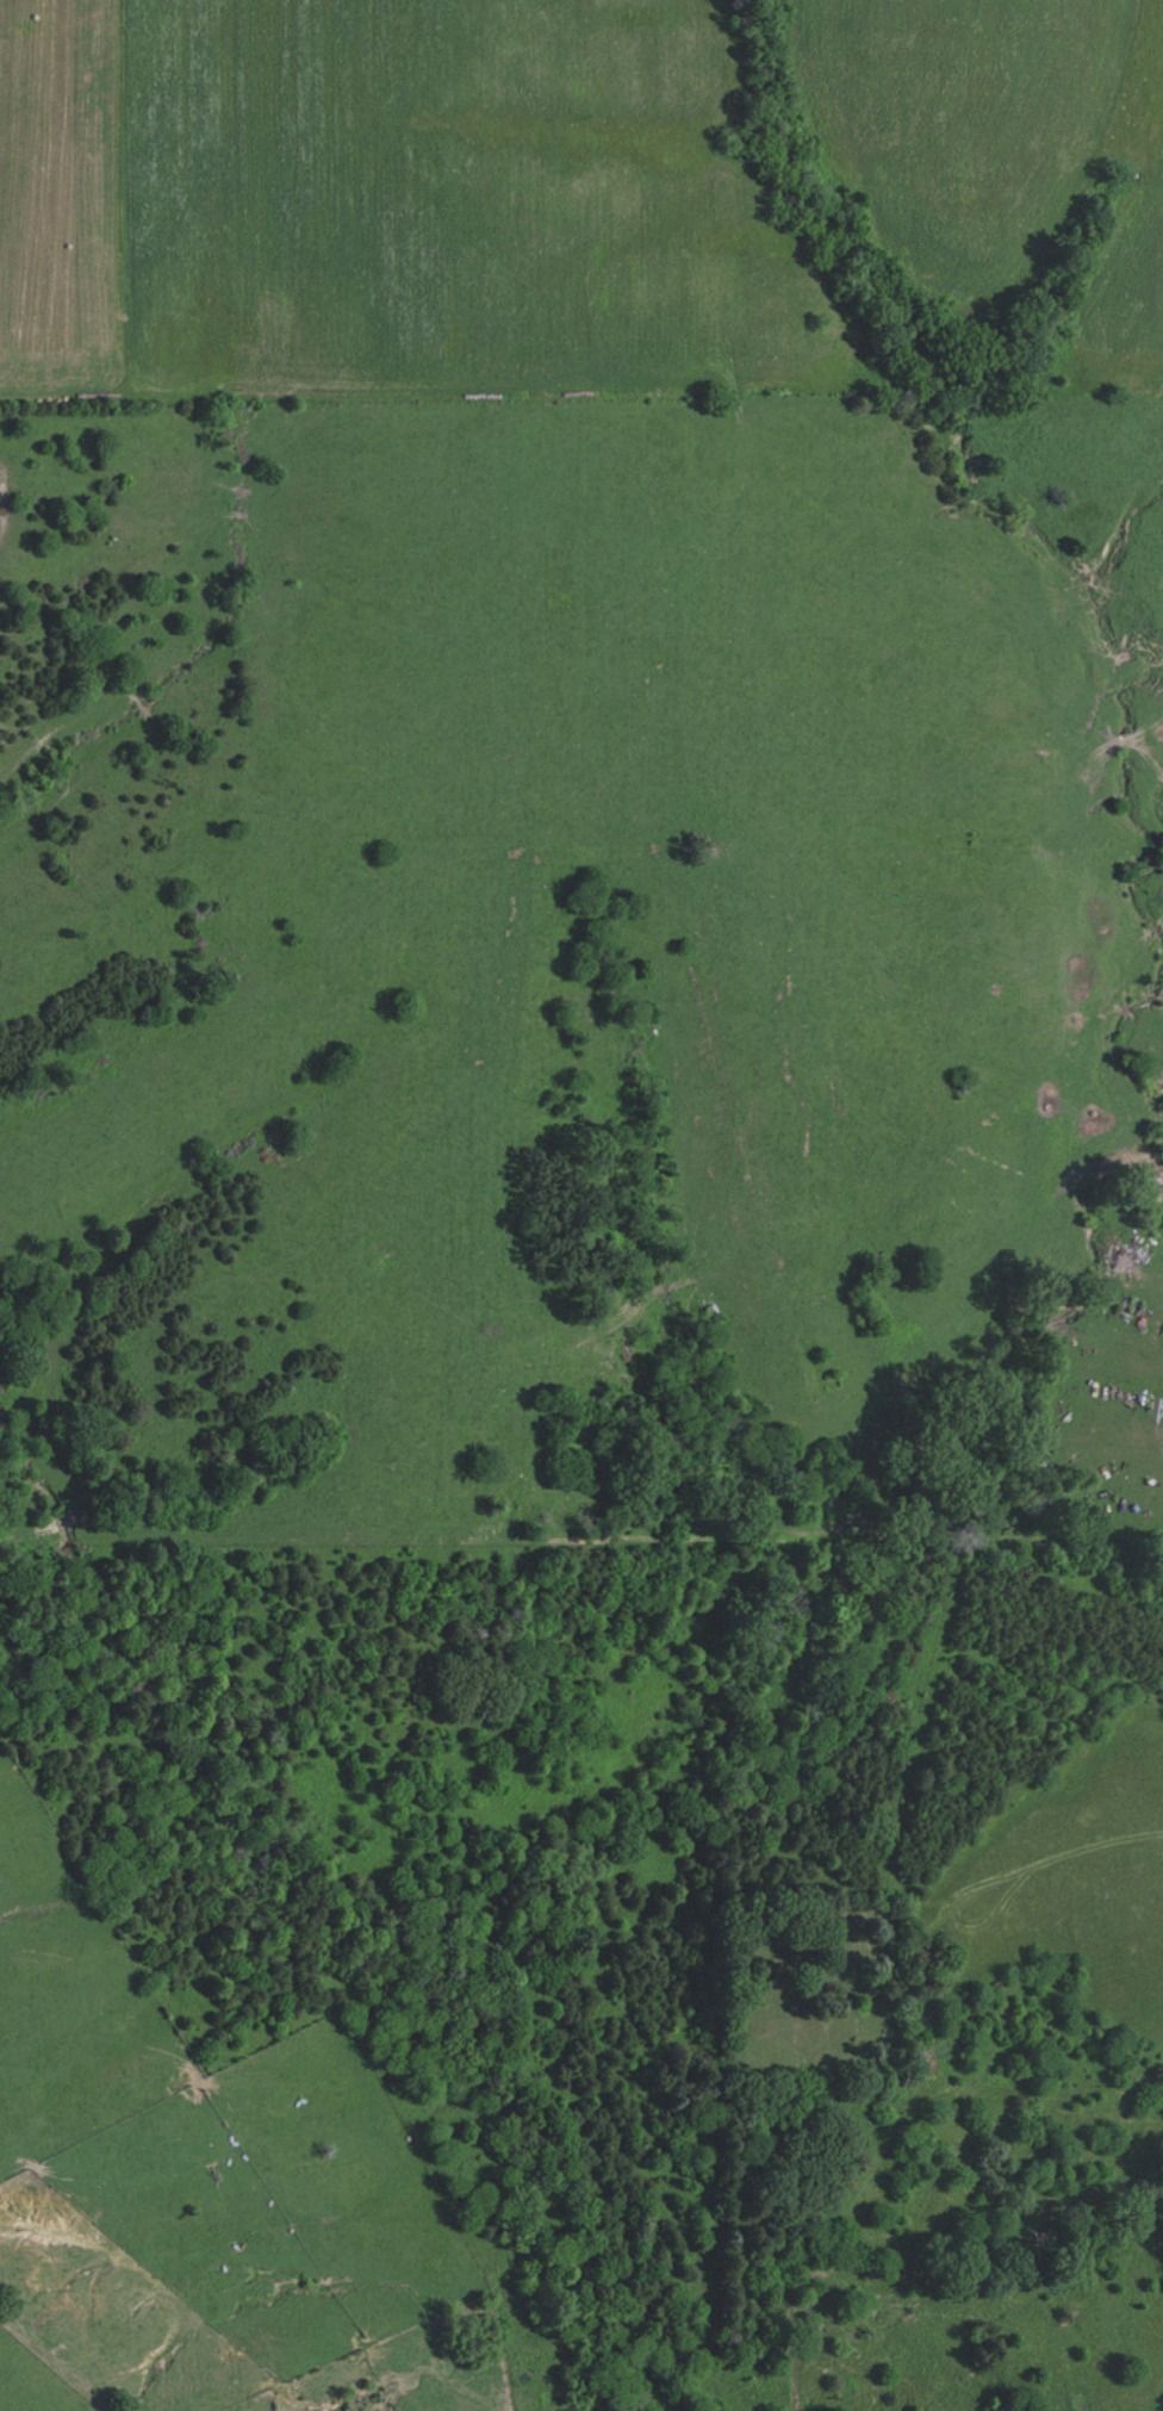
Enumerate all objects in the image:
park: (827, 1995)

